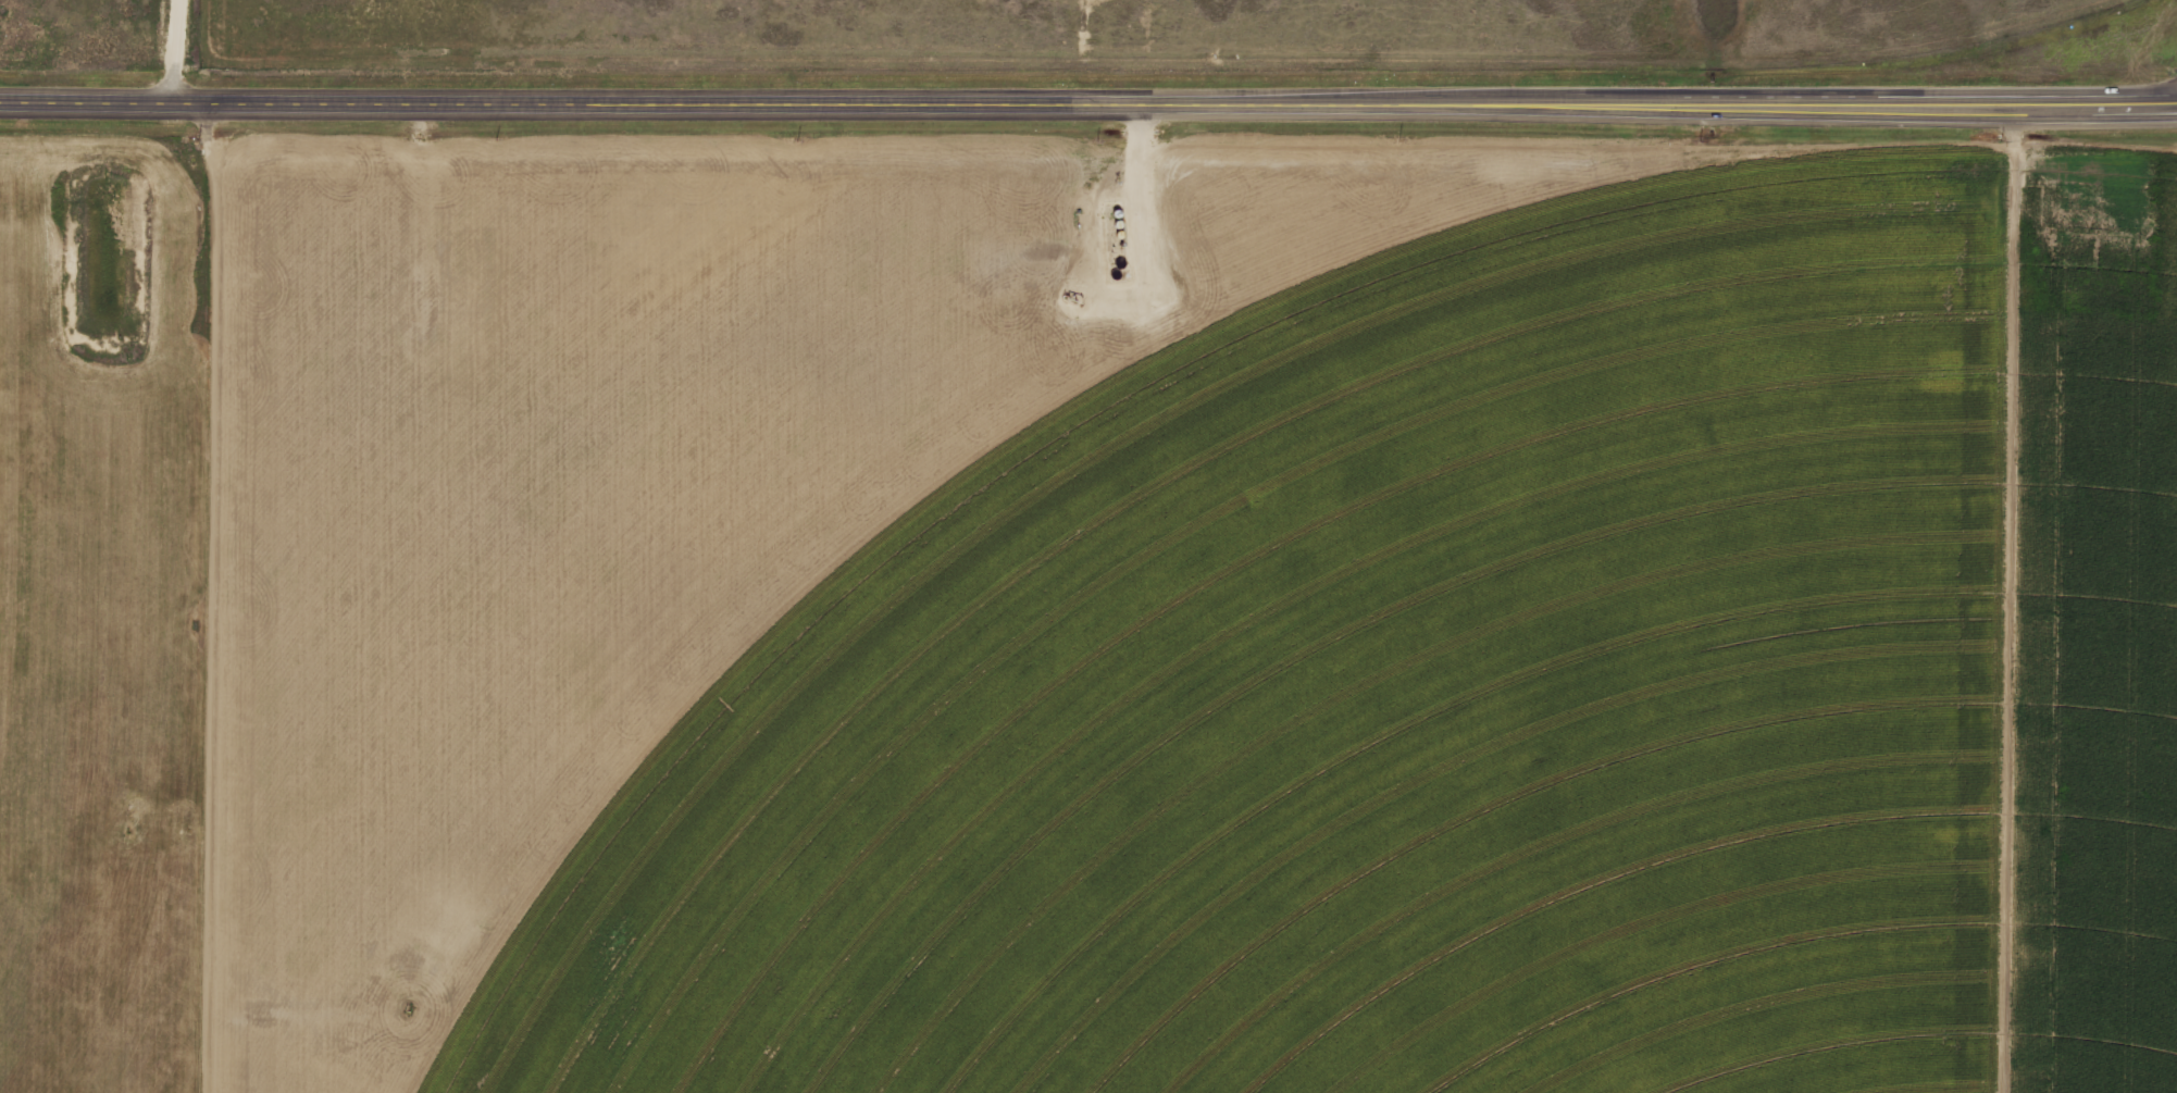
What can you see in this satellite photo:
road: (192, 47)
road: (1087, 99)
road: (234, 594)

